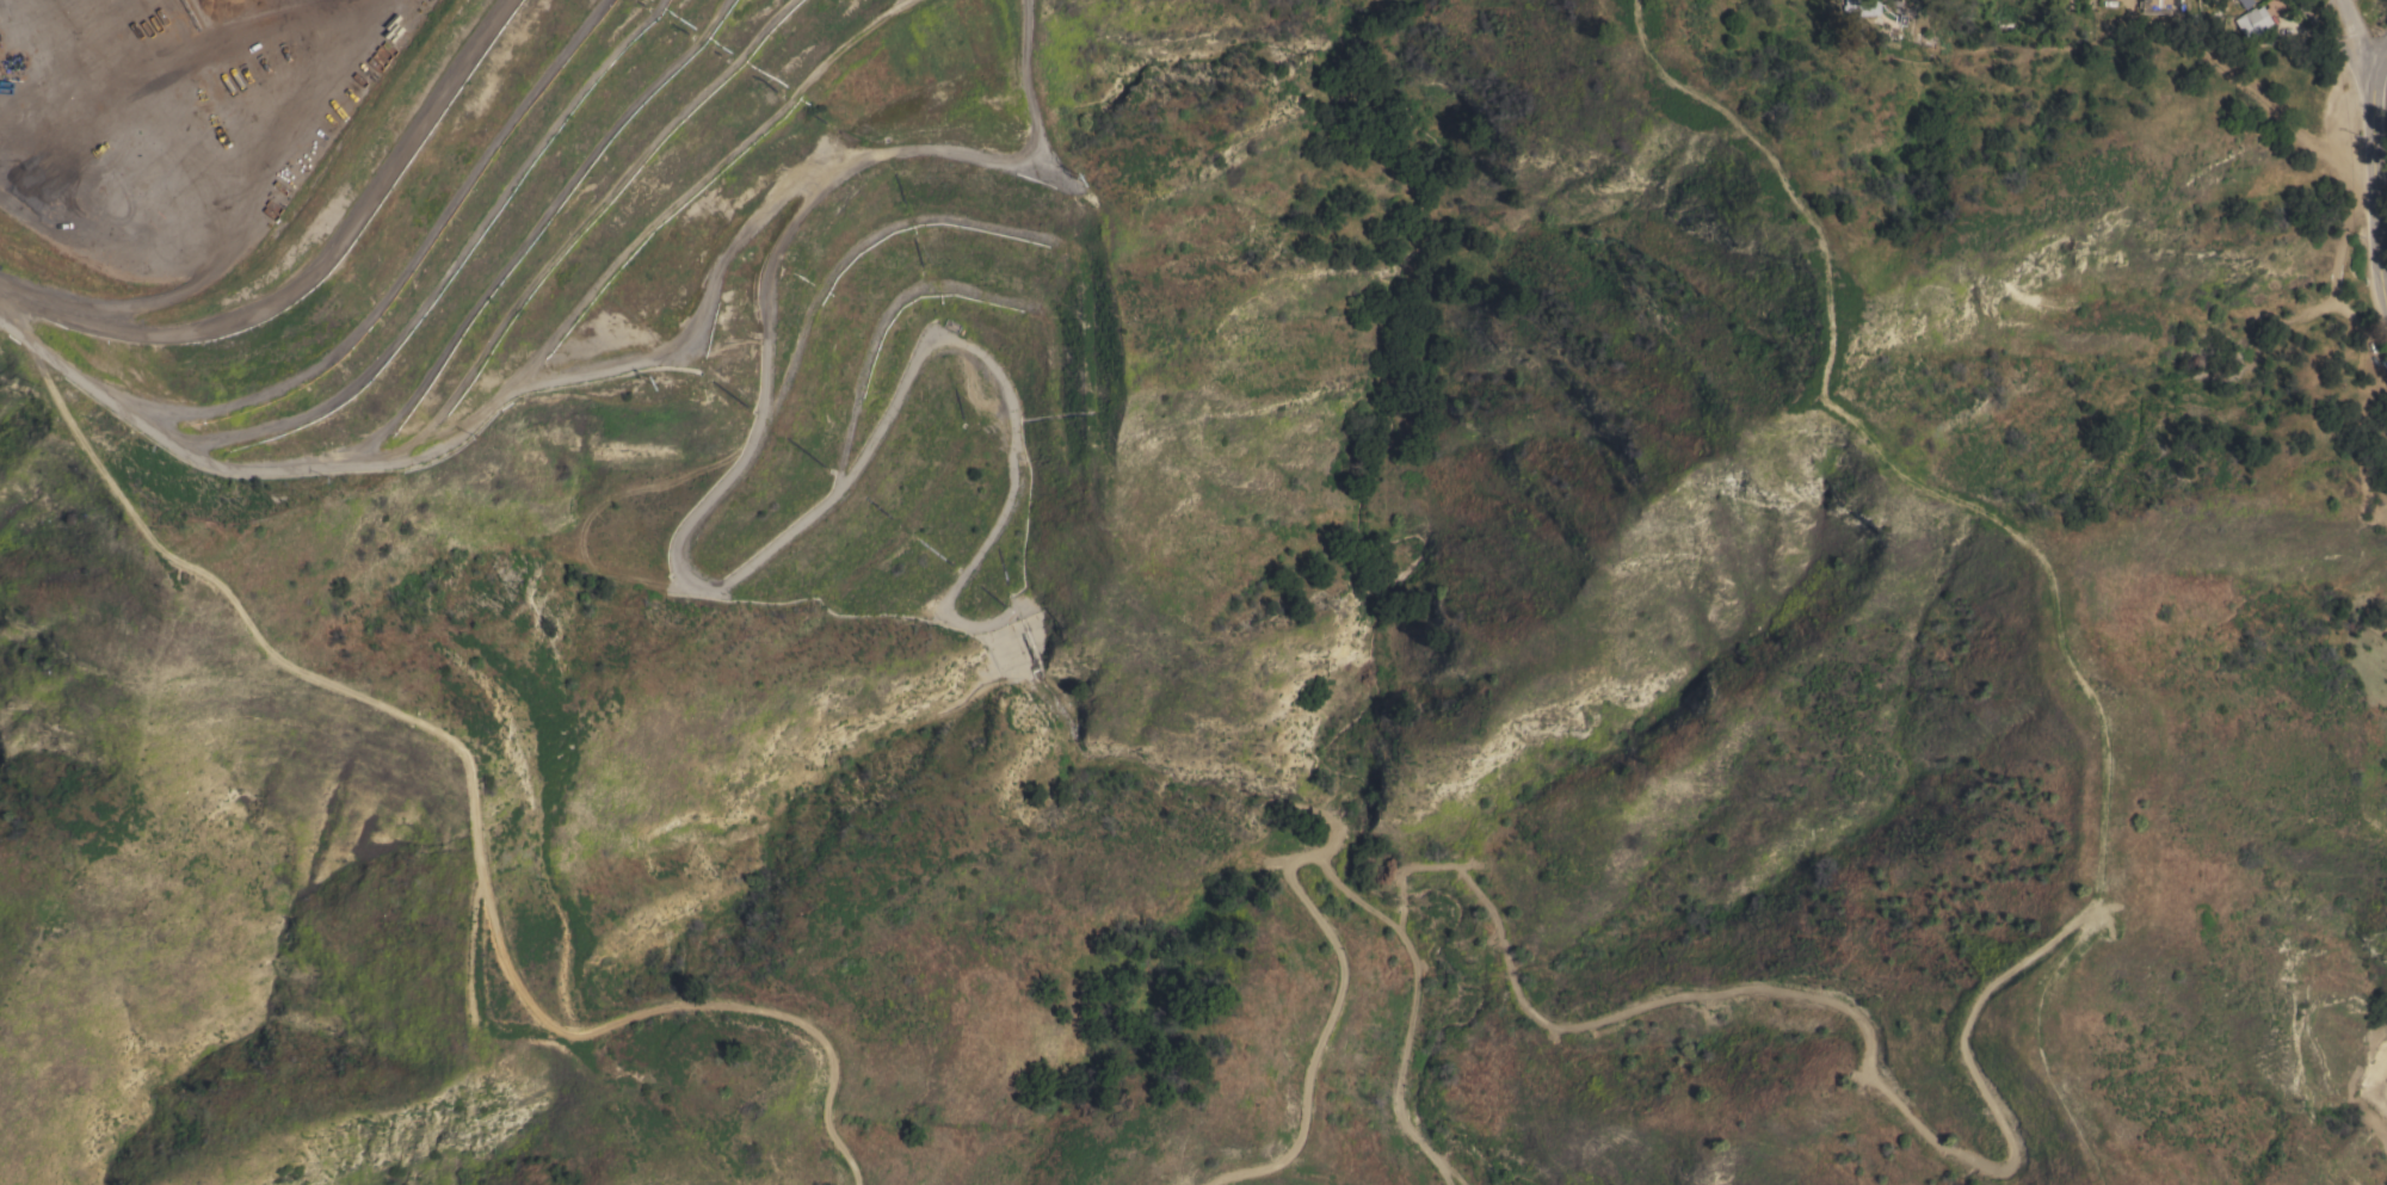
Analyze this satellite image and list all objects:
building: (2246, 2)
road: (2052, 5)
building: (2155, 6)
building: (1854, 7)
building: (2259, 18)
building: (2010, 20)
road: (2356, 37)
road: (2333, 38)
road: (2371, 163)
road: (2381, 220)
road: (310, 273)
landfill: (604, 288)
road: (2382, 294)
road: (479, 782)
road: (1315, 863)
road: (1304, 1172)
road: (1230, 1174)

